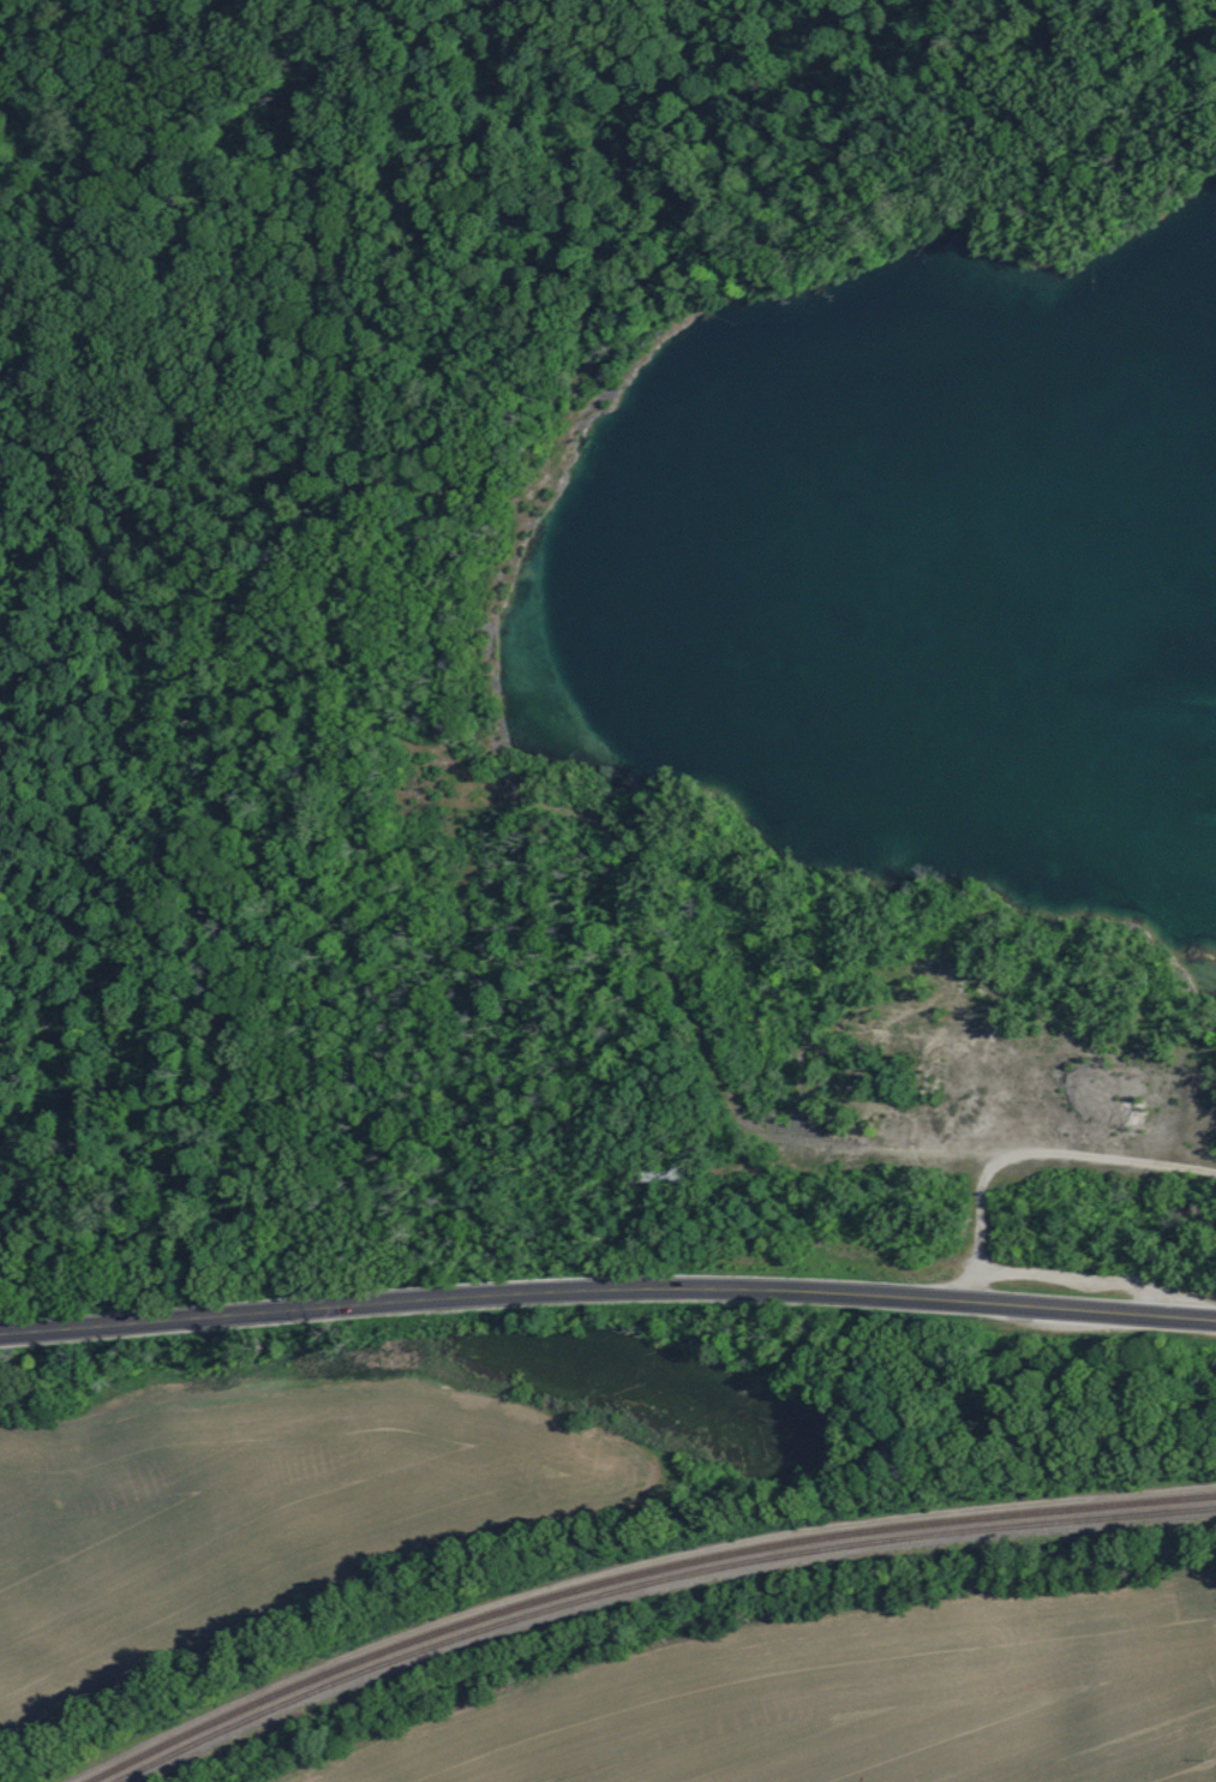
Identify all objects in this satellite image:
road: (607, 1276)
railway: (639, 1574)
railway: (652, 1587)

